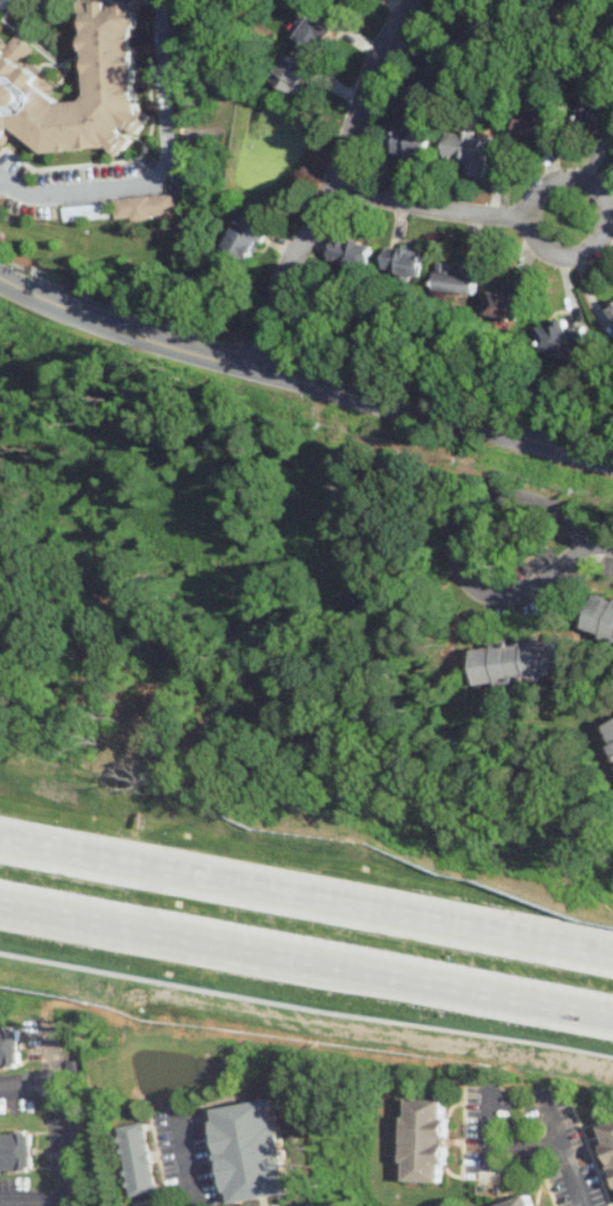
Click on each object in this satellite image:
building: (347, 1)
building: (519, 2)
building: (583, 4)
building: (314, 22)
building: (480, 25)
building: (294, 73)
building: (115, 75)
building: (436, 77)
building: (596, 115)
building: (537, 128)
building: (412, 142)
building: (465, 151)
building: (611, 151)
road: (158, 168)
road: (569, 180)
road: (334, 182)
building: (143, 208)
road: (427, 209)
building: (83, 212)
building: (247, 236)
building: (351, 253)
building: (404, 262)
building: (457, 276)
building: (508, 301)
building: (611, 309)
building: (562, 337)
road: (301, 362)
road: (302, 379)
road: (493, 499)
road: (597, 546)
building: (601, 618)
building: (516, 661)
building: (609, 731)
road: (306, 898)
road: (151, 932)
road: (458, 989)
building: (10, 1047)
road: (66, 1114)
road: (533, 1138)
building: (608, 1139)
building: (426, 1141)
building: (250, 1150)
building: (16, 1153)
road: (485, 1154)
building: (137, 1159)
road: (180, 1162)
building: (521, 1201)
road: (30, 1204)

